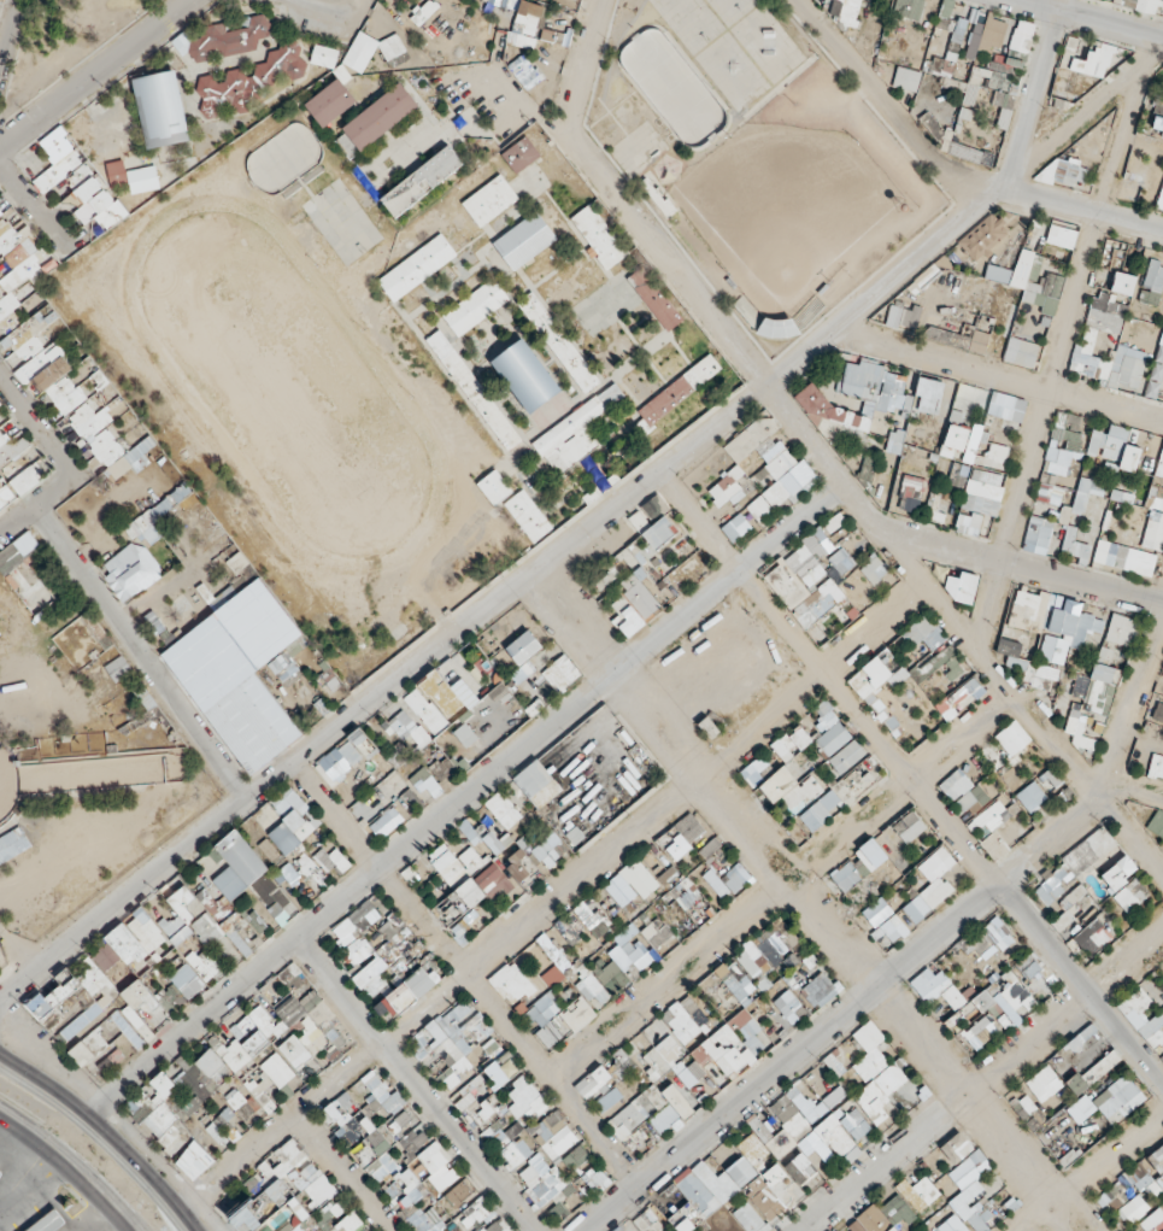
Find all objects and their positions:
park: (787, 209)

